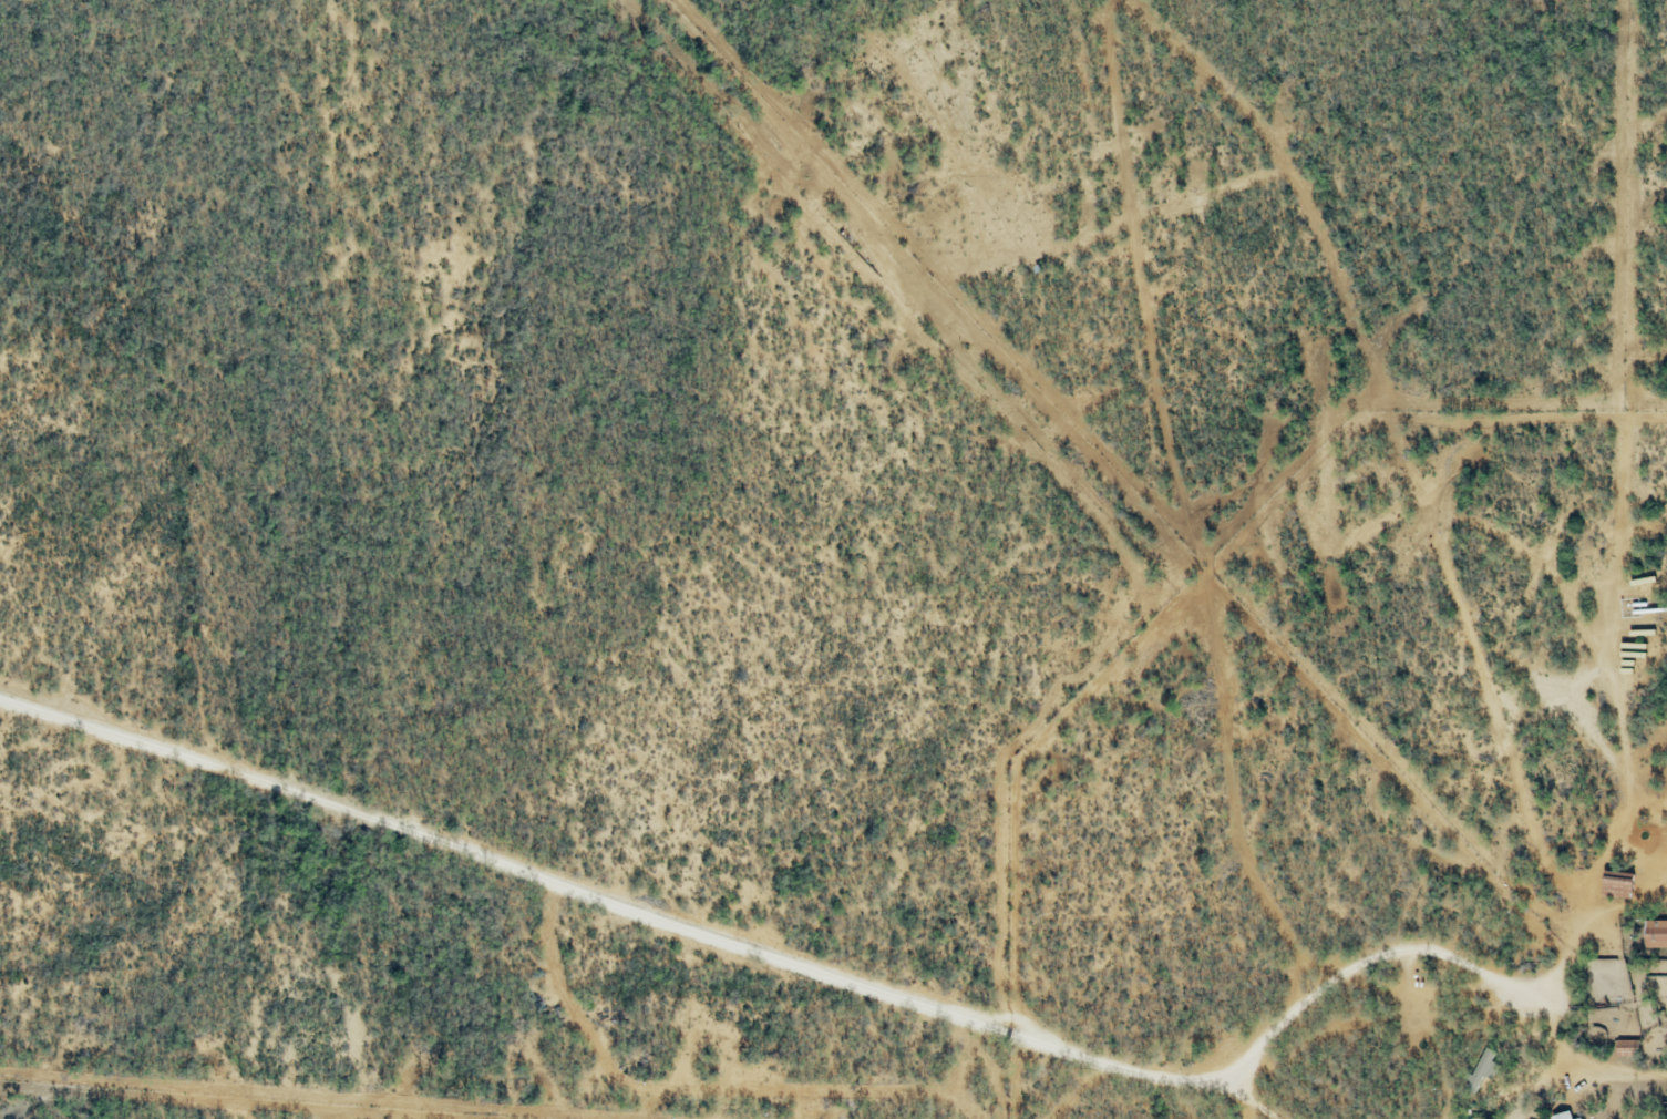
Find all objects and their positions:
building: (1657, 729)
building: (1655, 932)
road: (789, 963)
building: (1481, 1069)
building: (1562, 1115)

